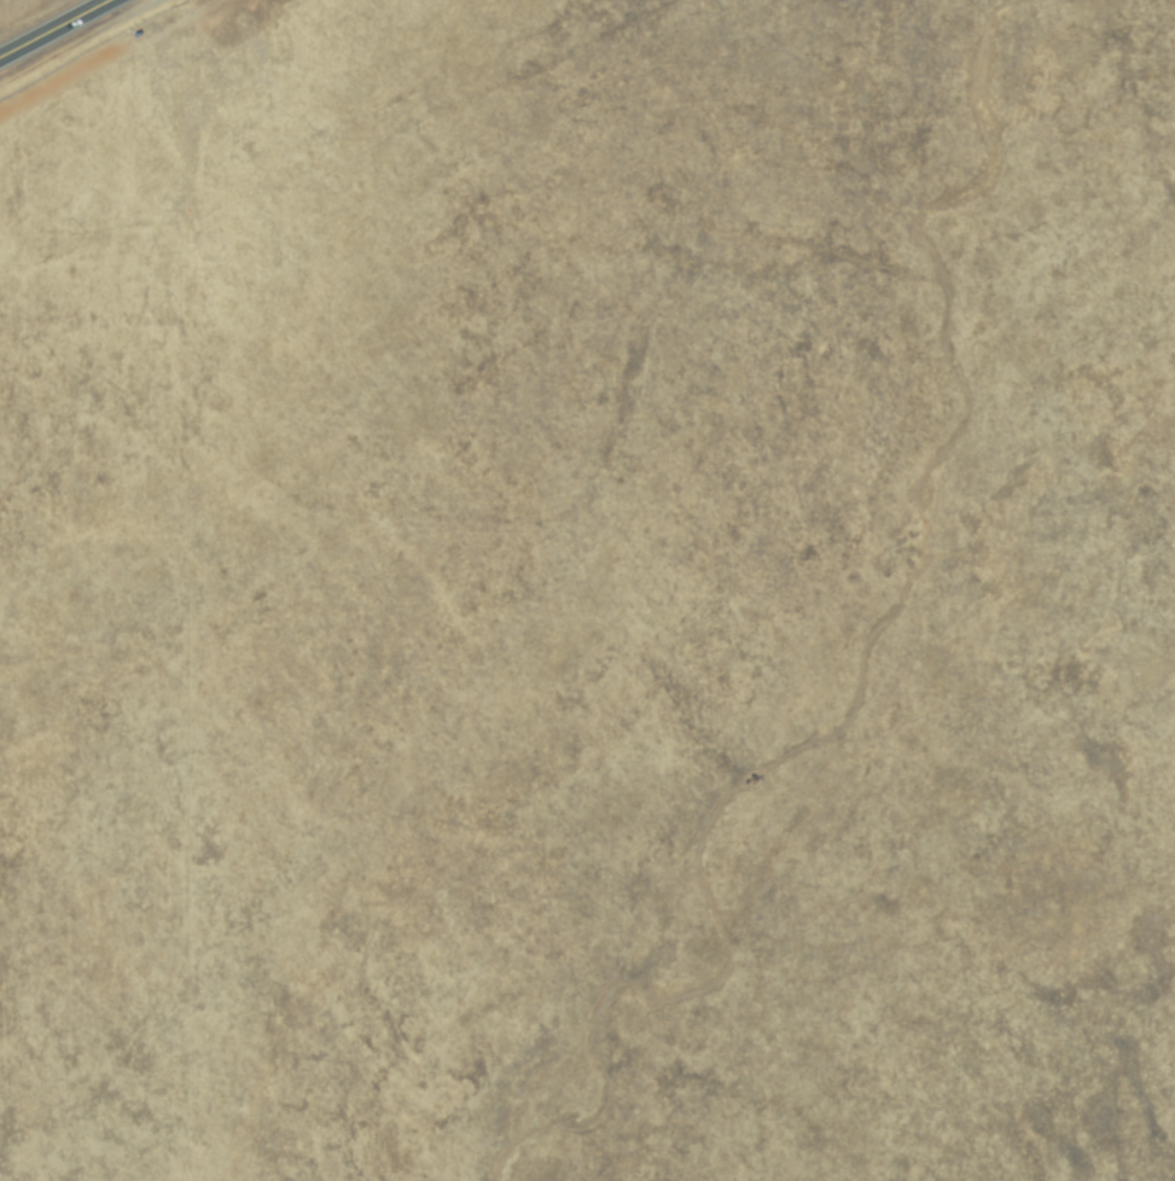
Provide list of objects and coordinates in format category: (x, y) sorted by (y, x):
road: (47, 23)
airport: (588, 592)

